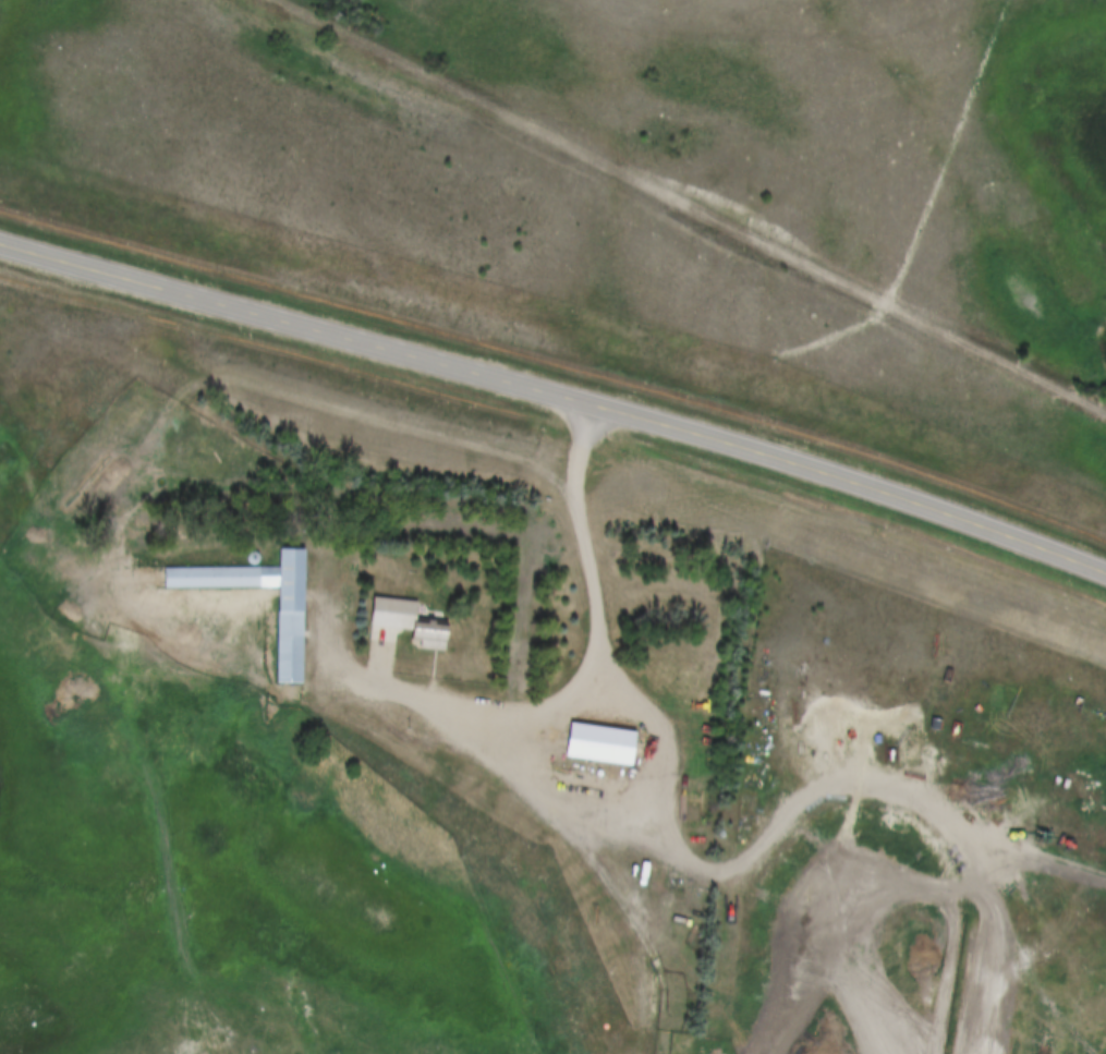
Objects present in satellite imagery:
road: (557, 388)
building: (405, 621)
building: (289, 635)
road: (567, 694)
building: (599, 743)

